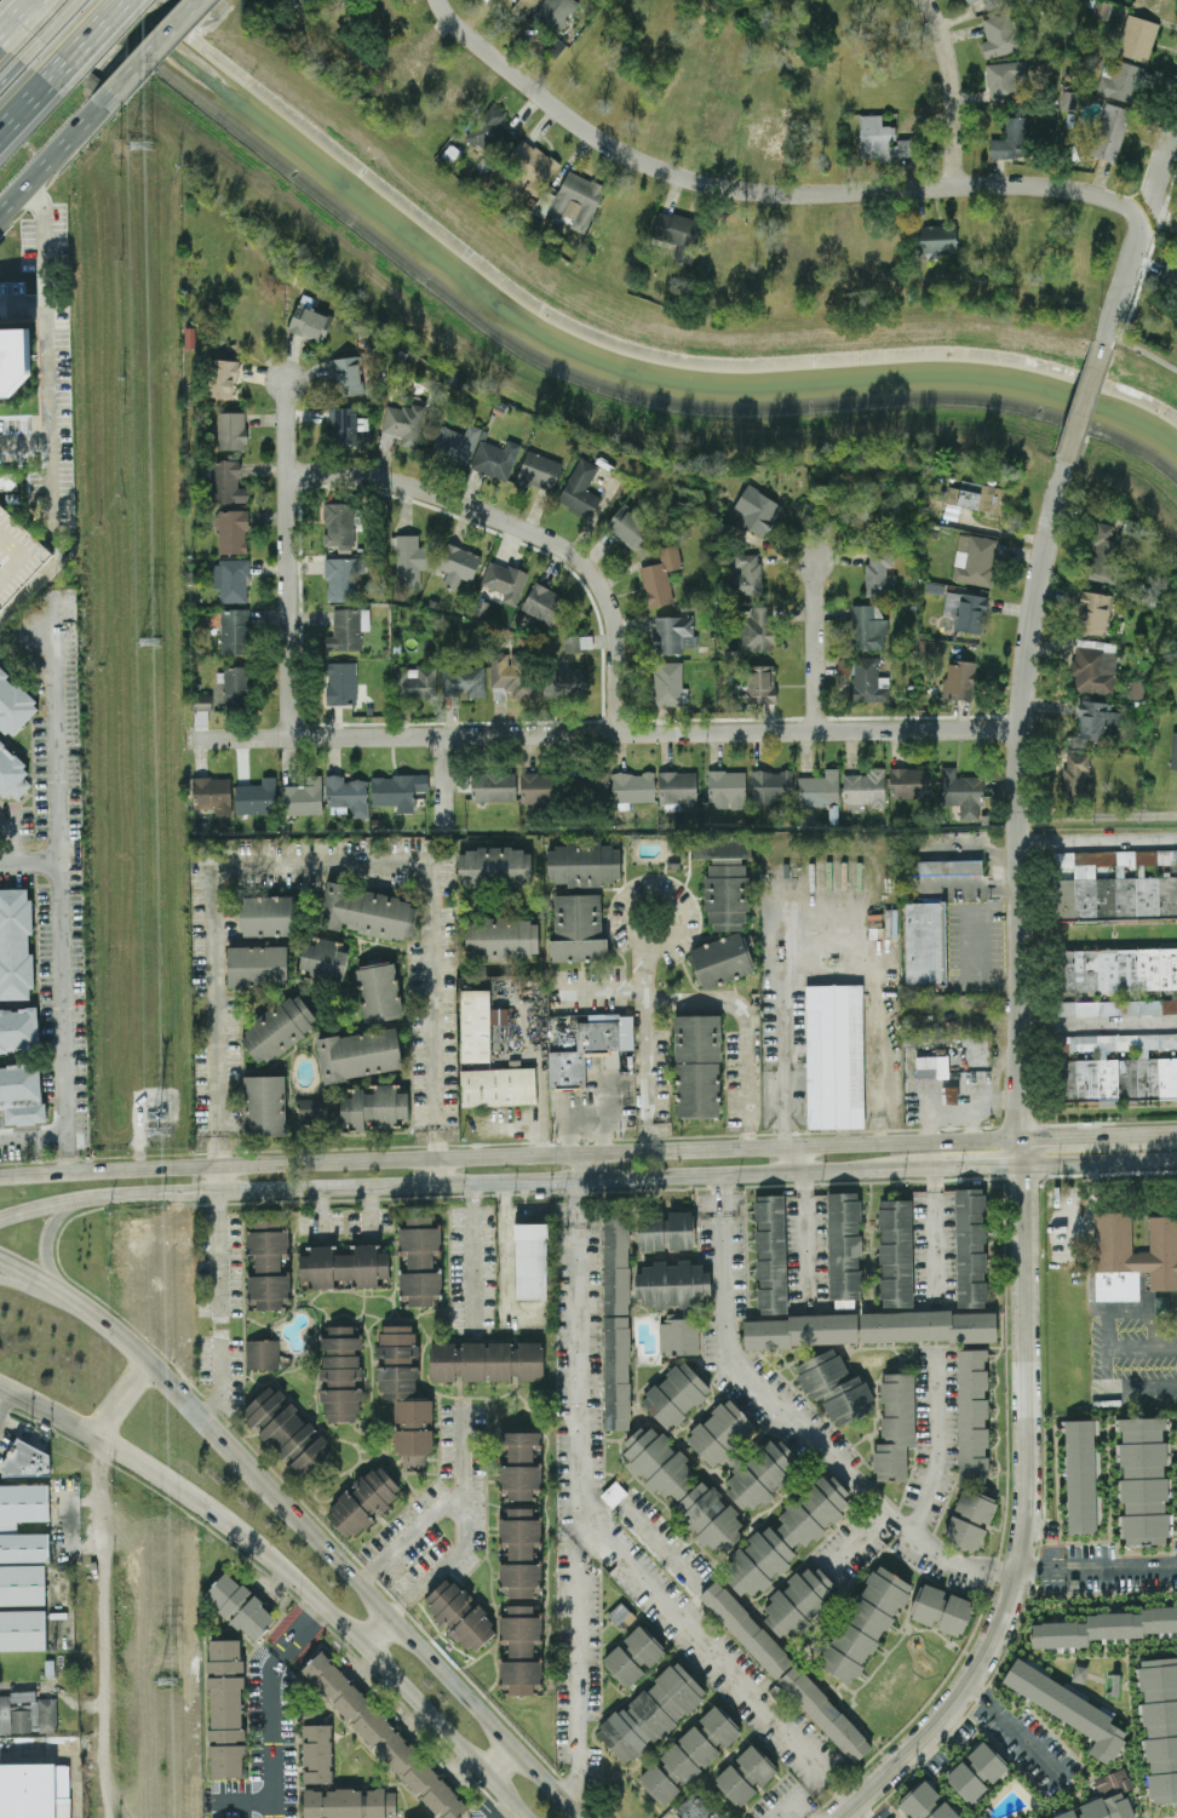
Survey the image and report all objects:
building: (970, 1)
building: (991, 2)
building: (523, 7)
building: (1101, 10)
road: (24, 16)
road: (58, 25)
building: (1001, 35)
road: (5, 36)
road: (94, 36)
building: (1137, 36)
building: (553, 46)
road: (151, 52)
road: (17, 69)
building: (1004, 79)
building: (1120, 81)
road: (953, 88)
road: (30, 105)
building: (1110, 132)
building: (490, 133)
building: (882, 139)
building: (1012, 140)
power tower: (139, 144)
road: (51, 160)
building: (532, 165)
road: (1160, 167)
road: (760, 191)
building: (578, 199)
road: (1169, 216)
building: (678, 234)
building: (935, 239)
building: (1170, 269)
road: (1121, 283)
park: (650, 305)
building: (309, 322)
road: (1143, 350)
building: (13, 357)
road: (50, 359)
river: (588, 361)
building: (346, 375)
building: (222, 378)
road: (1086, 402)
building: (402, 423)
building: (343, 425)
building: (231, 430)
building: (455, 442)
building: (495, 459)
building: (539, 471)
building: (226, 482)
building: (580, 489)
building: (977, 497)
building: (756, 510)
building: (338, 524)
road: (523, 527)
building: (628, 527)
building: (231, 531)
building: (1103, 555)
road: (286, 556)
building: (974, 560)
building: (410, 561)
building: (458, 564)
building: (879, 573)
building: (746, 574)
building: (660, 577)
building: (341, 578)
building: (231, 580)
building: (504, 580)
building: (934, 587)
building: (544, 603)
building: (951, 603)
building: (971, 613)
building: (1093, 613)
building: (867, 627)
building: (348, 629)
building: (757, 629)
building: (235, 630)
building: (673, 633)
power tower: (147, 641)
road: (813, 646)
building: (1095, 666)
building: (509, 678)
building: (865, 678)
building: (959, 679)
building: (463, 681)
building: (564, 682)
building: (341, 683)
building: (414, 683)
building: (667, 683)
building: (760, 683)
building: (236, 687)
building: (1136, 689)
building: (202, 701)
building: (13, 704)
building: (1093, 721)
road: (605, 733)
building: (1173, 751)
building: (11, 773)
building: (1075, 776)
road: (441, 781)
building: (596, 782)
building: (909, 782)
building: (494, 786)
building: (658, 787)
building: (770, 787)
building: (538, 788)
building: (727, 788)
building: (819, 788)
building: (397, 790)
building: (863, 790)
building: (348, 792)
building: (961, 793)
building: (212, 795)
road: (1016, 795)
building: (256, 797)
building: (303, 797)
road: (1096, 841)
road: (316, 859)
road: (29, 861)
road: (59, 867)
building: (494, 867)
building: (945, 867)
building: (725, 878)
building: (1118, 884)
building: (580, 897)
building: (368, 912)
road: (683, 914)
building: (269, 916)
road: (1096, 934)
building: (501, 937)
building: (16, 944)
building: (923, 944)
building: (722, 959)
building: (323, 960)
building: (256, 965)
road: (828, 979)
building: (1119, 979)
building: (379, 991)
road: (722, 997)
building: (475, 1026)
road: (1096, 1026)
building: (18, 1028)
building: (279, 1028)
road: (648, 1049)
building: (360, 1054)
building: (580, 1054)
building: (834, 1057)
building: (697, 1066)
building: (931, 1066)
building: (1123, 1067)
building: (496, 1088)
building: (22, 1094)
building: (952, 1096)
building: (264, 1105)
building: (374, 1107)
building: (312, 1108)
road: (541, 1111)
road: (585, 1118)
power tower: (157, 1130)
road: (34, 1131)
road: (1137, 1132)
road: (1057, 1135)
road: (68, 1149)
road: (618, 1149)
road: (803, 1159)
road: (579, 1165)
road: (144, 1168)
road: (436, 1170)
road: (35, 1172)
road: (217, 1177)
road: (586, 1180)
building: (666, 1231)
road: (47, 1237)
road: (935, 1237)
road: (1090, 1240)
road: (804, 1241)
road: (505, 1246)
building: (844, 1248)
building: (970, 1248)
building: (1156, 1251)
building: (896, 1252)
building: (771, 1254)
road: (218, 1255)
road: (472, 1257)
building: (419, 1260)
building: (530, 1260)
building: (269, 1263)
building: (341, 1266)
road: (45, 1292)
building: (674, 1301)
road: (1150, 1318)
building: (616, 1320)
road: (218, 1325)
road: (1127, 1346)
road: (1026, 1353)
building: (262, 1354)
building: (486, 1360)
building: (397, 1361)
building: (340, 1371)
road: (218, 1376)
road: (1107, 1380)
building: (834, 1386)
building: (676, 1394)
road: (4, 1395)
road: (122, 1398)
road: (190, 1405)
building: (972, 1416)
building: (895, 1426)
road: (791, 1427)
building: (287, 1430)
building: (413, 1430)
building: (720, 1432)
road: (470, 1440)
road: (936, 1445)
building: (25, 1461)
road: (140, 1464)
building: (519, 1464)
building: (760, 1475)
building: (1080, 1475)
building: (1143, 1480)
building: (682, 1487)
road: (579, 1491)
building: (613, 1493)
building: (363, 1501)
building: (23, 1502)
building: (976, 1506)
road: (414, 1533)
building: (964, 1533)
building: (787, 1535)
road: (662, 1543)
road: (857, 1543)
building: (519, 1552)
road: (444, 1556)
road: (1097, 1568)
building: (22, 1590)
building: (798, 1600)
building: (239, 1605)
building: (941, 1608)
building: (459, 1613)
building: (865, 1622)
building: (1104, 1625)
road: (101, 1627)
road: (377, 1635)
building: (519, 1646)
building: (632, 1654)
road: (716, 1661)
building: (785, 1670)
power tower: (170, 1682)
road: (398, 1687)
road: (467, 1699)
road: (272, 1704)
road: (946, 1707)
building: (1067, 1707)
building: (225, 1708)
building: (650, 1711)
building: (1159, 1725)
road: (1017, 1732)
building: (383, 1736)
building: (317, 1751)
building: (689, 1754)
road: (498, 1760)
building: (976, 1771)
building: (746, 1774)
building: (1112, 1780)
building: (30, 1791)
road: (798, 1795)
road: (241, 1799)
building: (349, 1802)
building: (925, 1802)
building: (697, 1807)
building: (1102, 1807)
road: (804, 1808)
road: (504, 1811)
road: (859, 1811)

